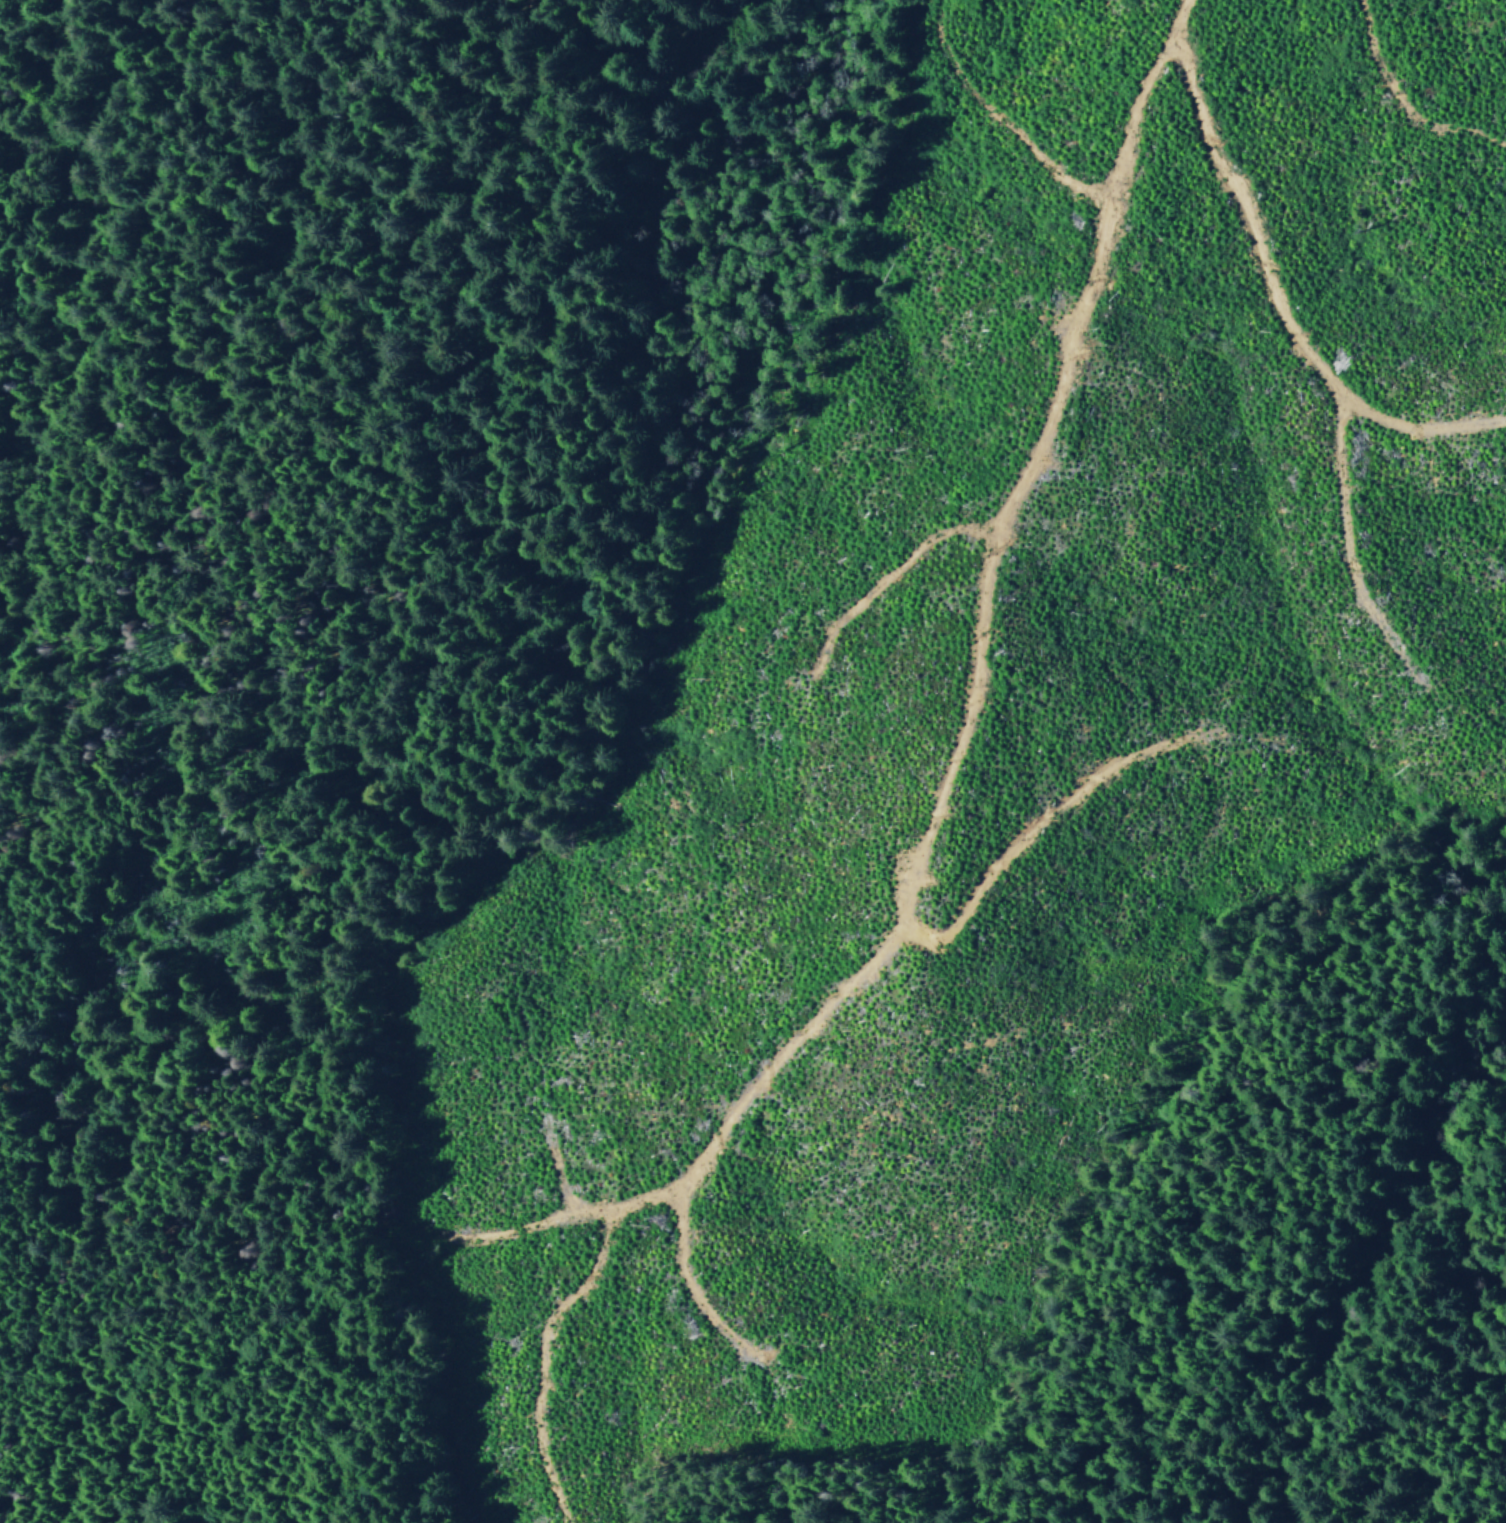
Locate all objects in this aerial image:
road: (1267, 288)

